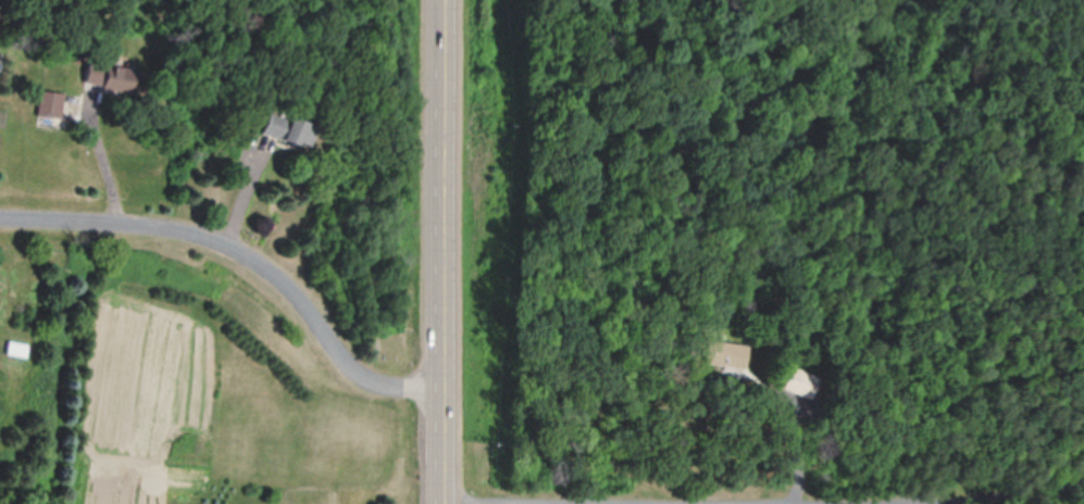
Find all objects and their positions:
building: (107, 76)
building: (50, 103)
building: (286, 128)
road: (245, 249)
road: (445, 252)
building: (16, 348)
building: (724, 353)
building: (799, 381)

